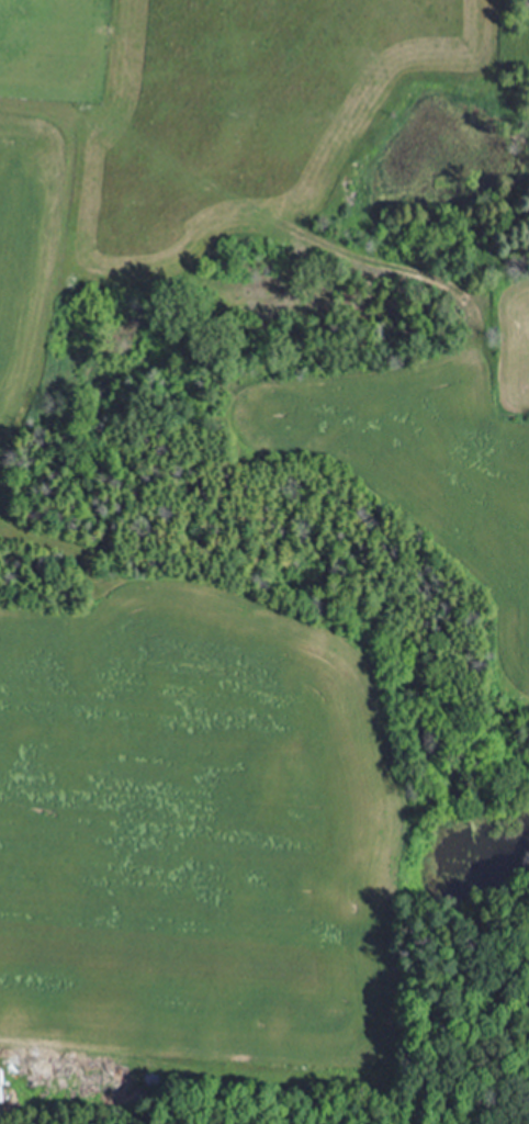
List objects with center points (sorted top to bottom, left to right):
building: (0, 1089)

